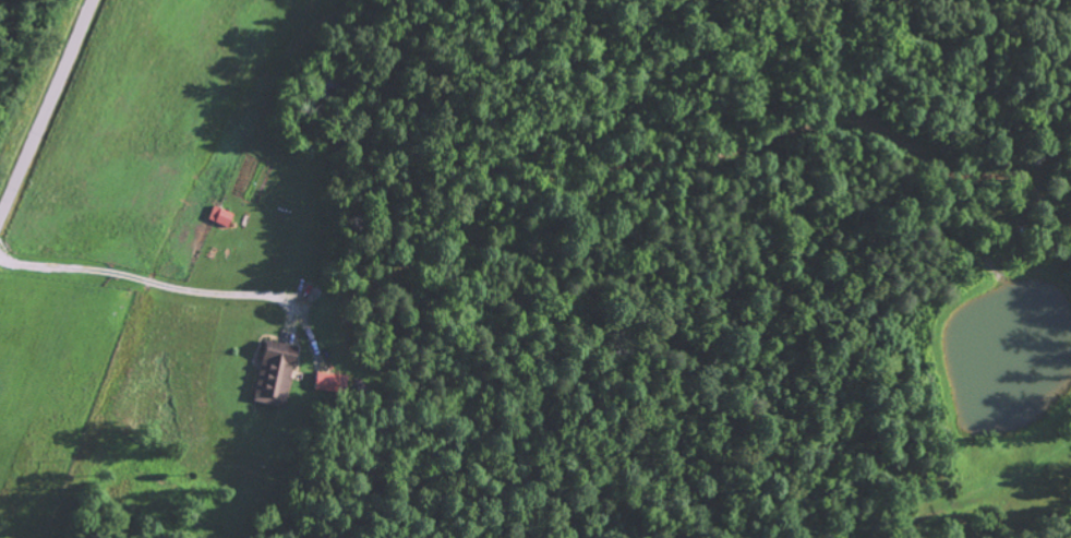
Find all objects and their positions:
road: (48, 111)
building: (220, 216)
road: (302, 285)
building: (273, 374)
building: (329, 383)

